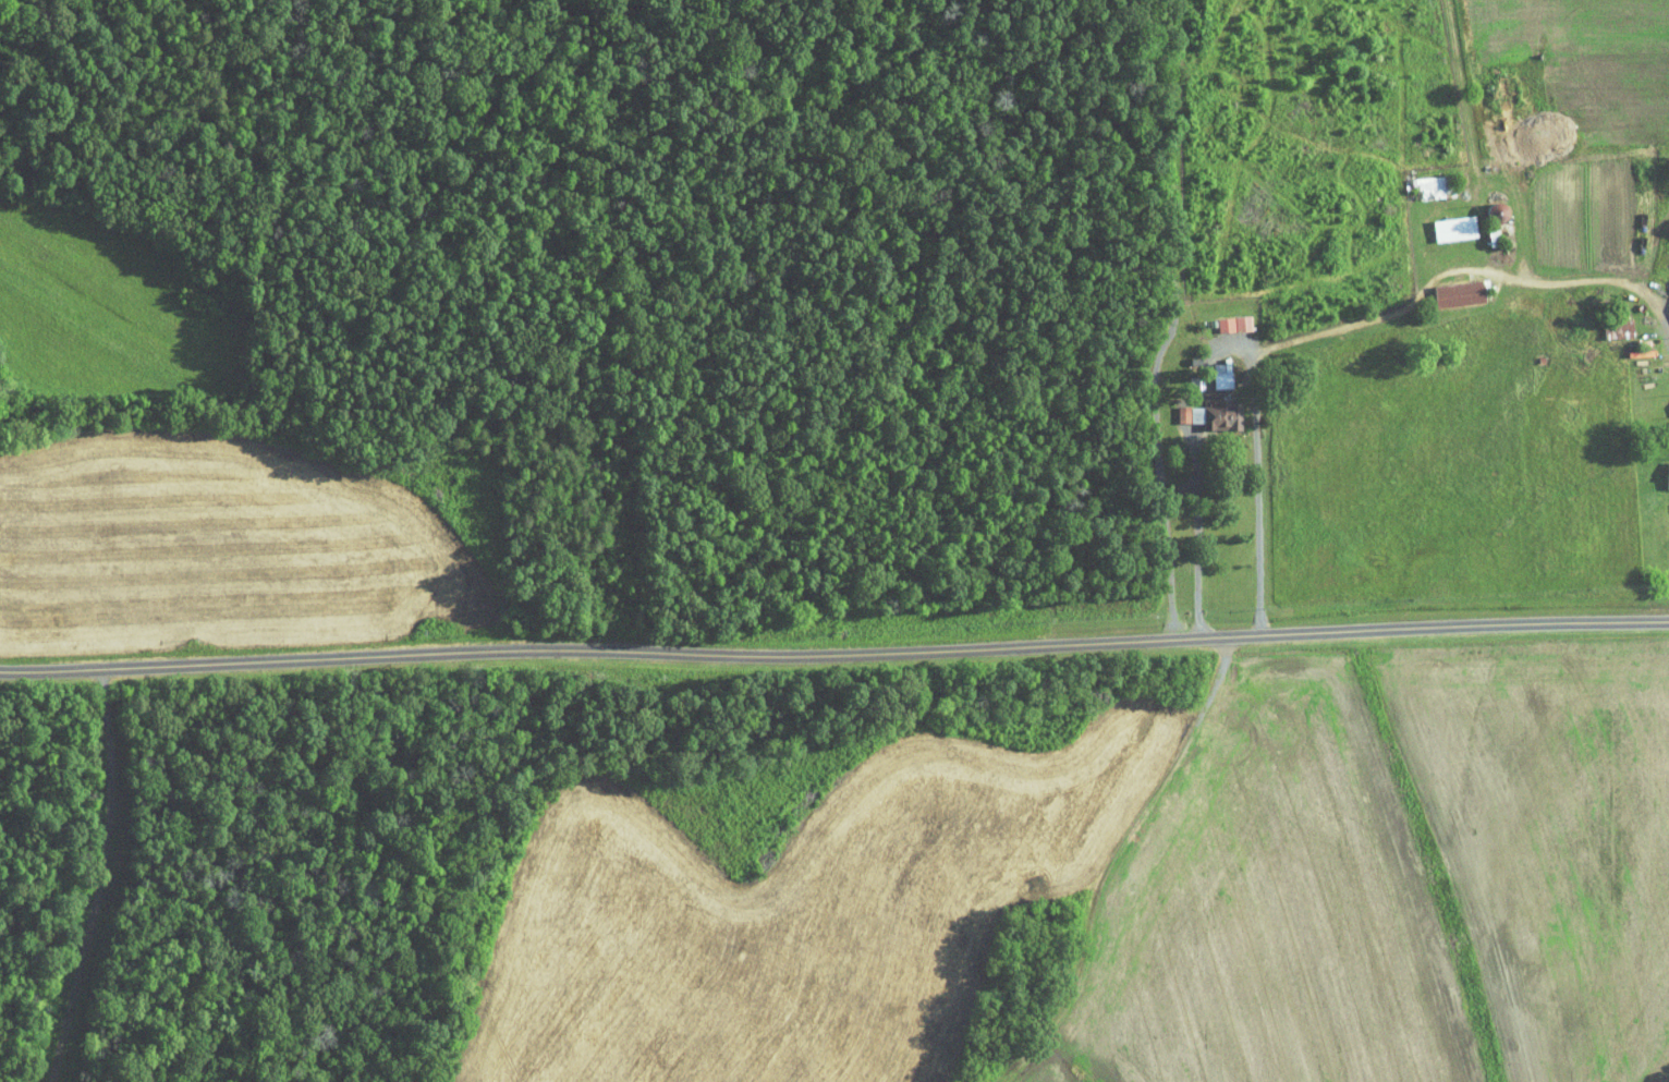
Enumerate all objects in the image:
building: (1423, 180)
building: (1446, 221)
building: (1449, 285)
building: (1223, 317)
road: (1343, 326)
road: (1236, 345)
building: (1210, 367)
building: (1667, 400)
building: (1180, 408)
building: (1215, 408)
building: (1664, 467)
road: (1204, 528)
road: (834, 653)
road: (105, 878)

